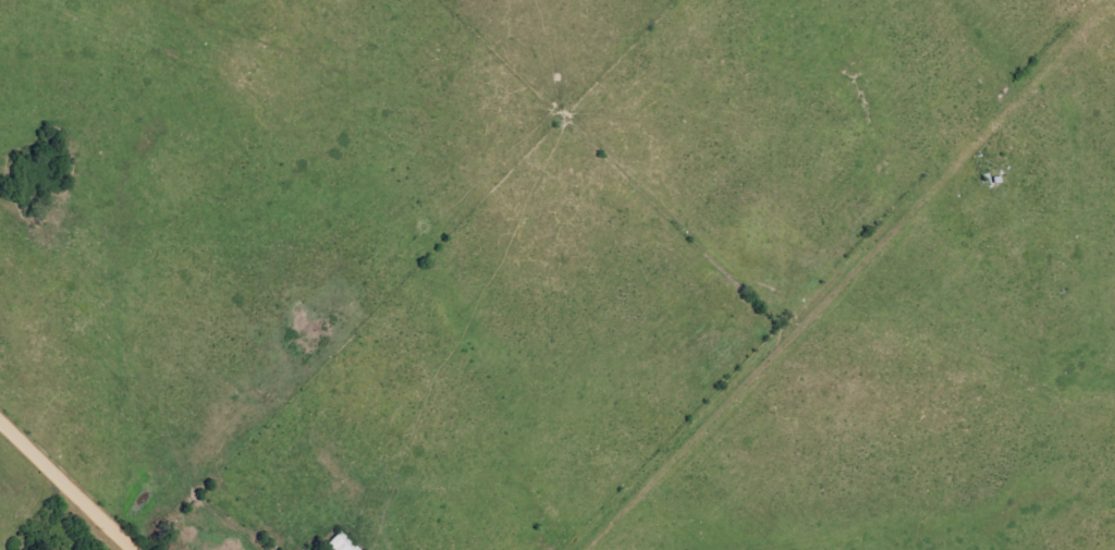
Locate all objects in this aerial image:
road: (66, 486)

